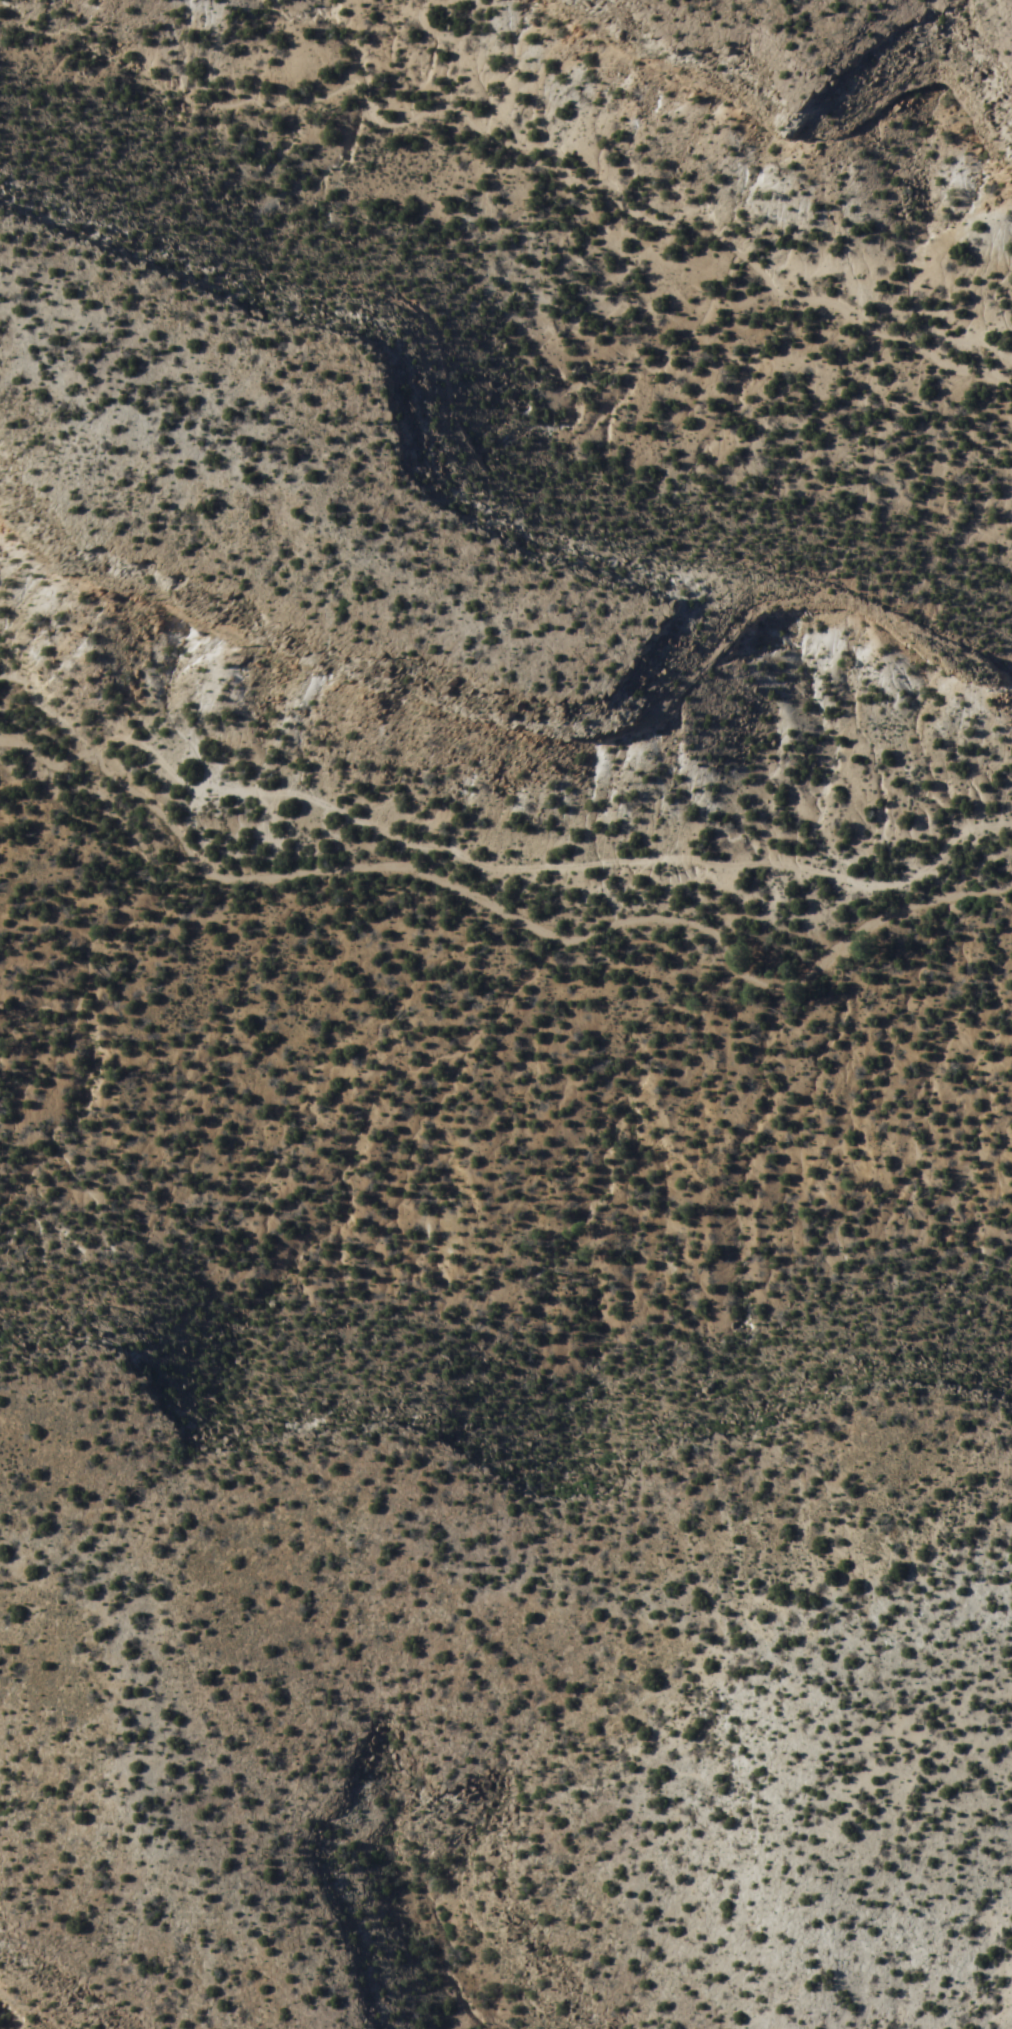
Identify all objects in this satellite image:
road: (1004, 305)
road: (497, 864)

